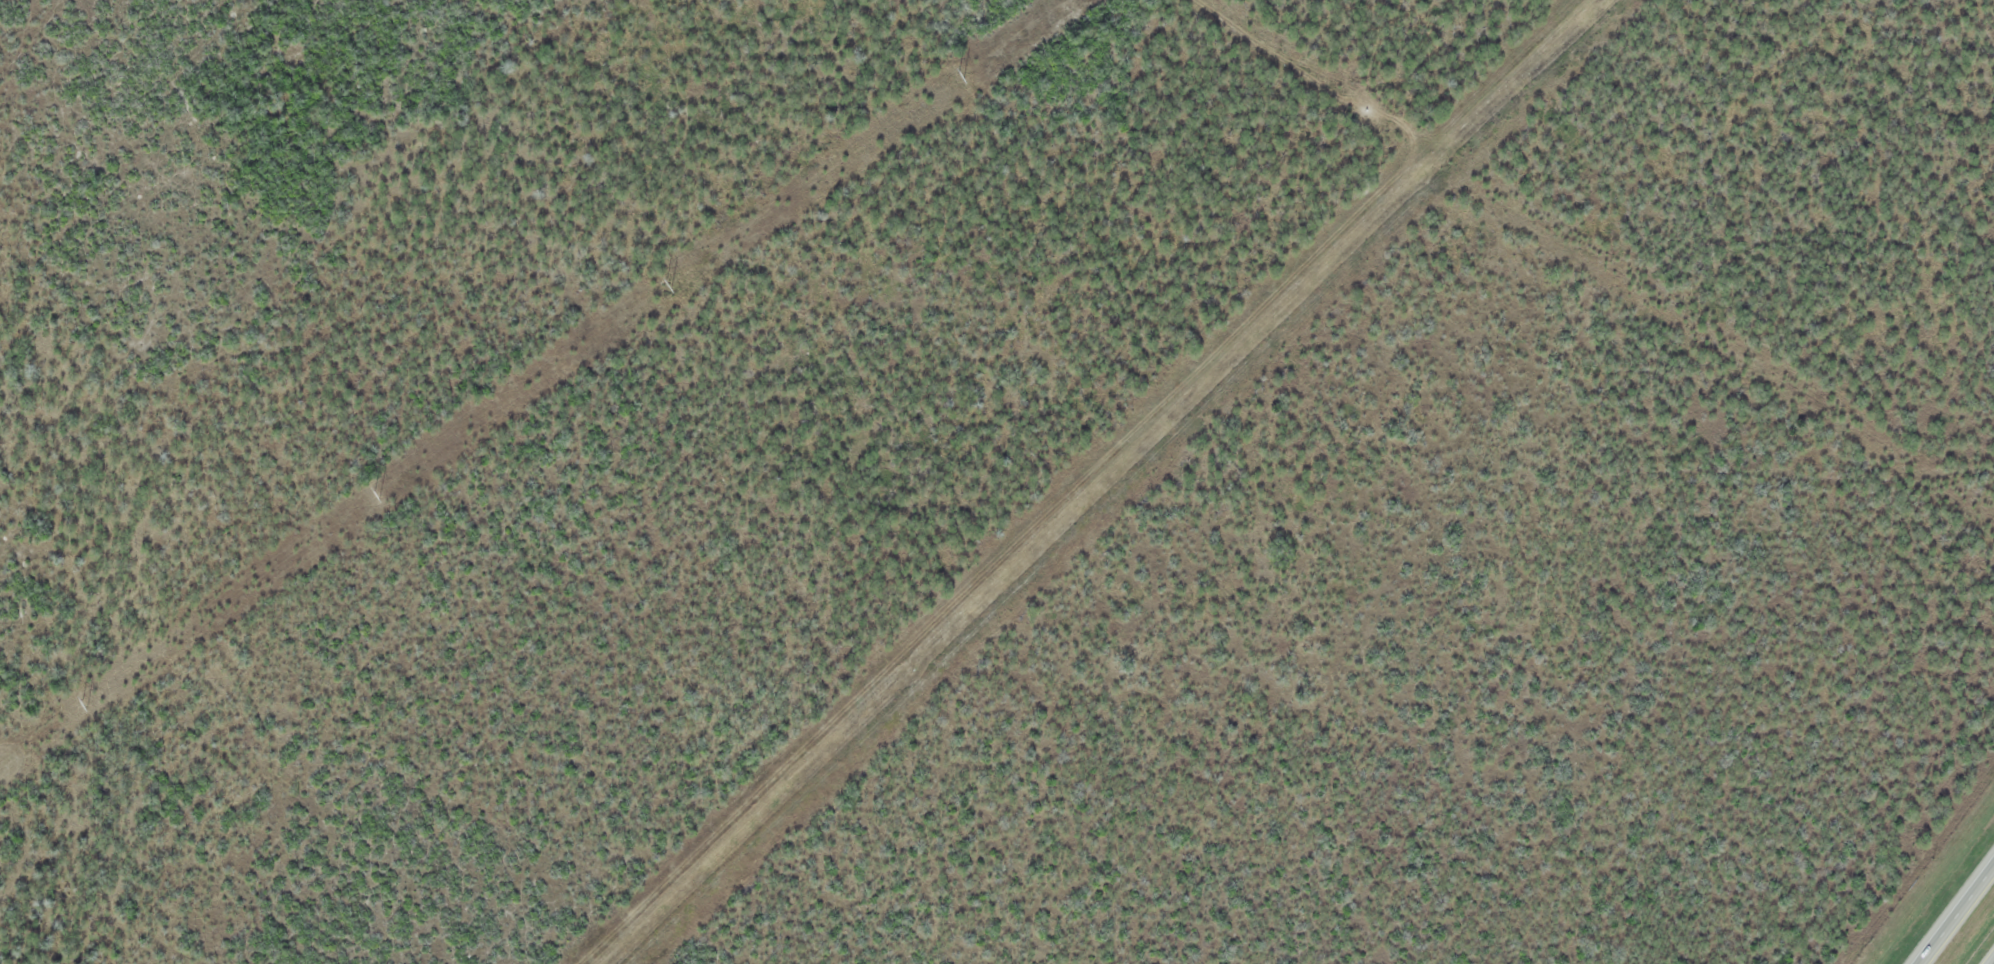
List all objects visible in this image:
power tower: (962, 74)
power tower: (669, 284)
power tower: (377, 493)
power tower: (85, 702)
road: (1960, 919)

